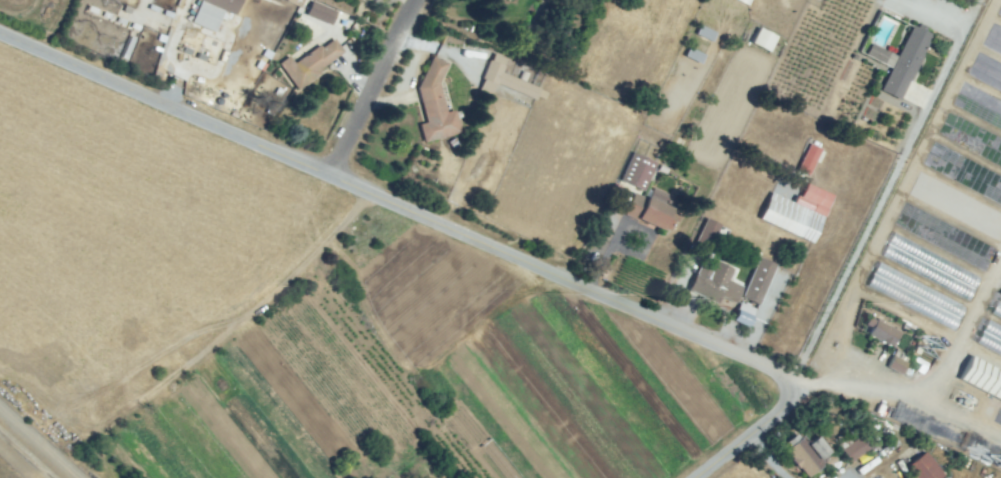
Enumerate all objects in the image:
building: (491, 3)
building: (211, 11)
building: (320, 13)
building: (700, 14)
building: (703, 33)
building: (761, 39)
building: (692, 55)
building: (309, 62)
building: (899, 62)
building: (500, 78)
road: (370, 85)
building: (434, 104)
building: (803, 165)
building: (636, 170)
road: (877, 199)
road: (396, 201)
building: (651, 209)
building: (795, 212)
building: (704, 235)
building: (758, 280)
building: (712, 281)
building: (741, 319)
building: (881, 330)
building: (894, 364)
crop: (419, 376)
building: (982, 376)
road: (928, 377)
road: (750, 434)
road: (38, 442)
building: (853, 449)
building: (806, 453)
building: (497, 459)
building: (922, 467)

